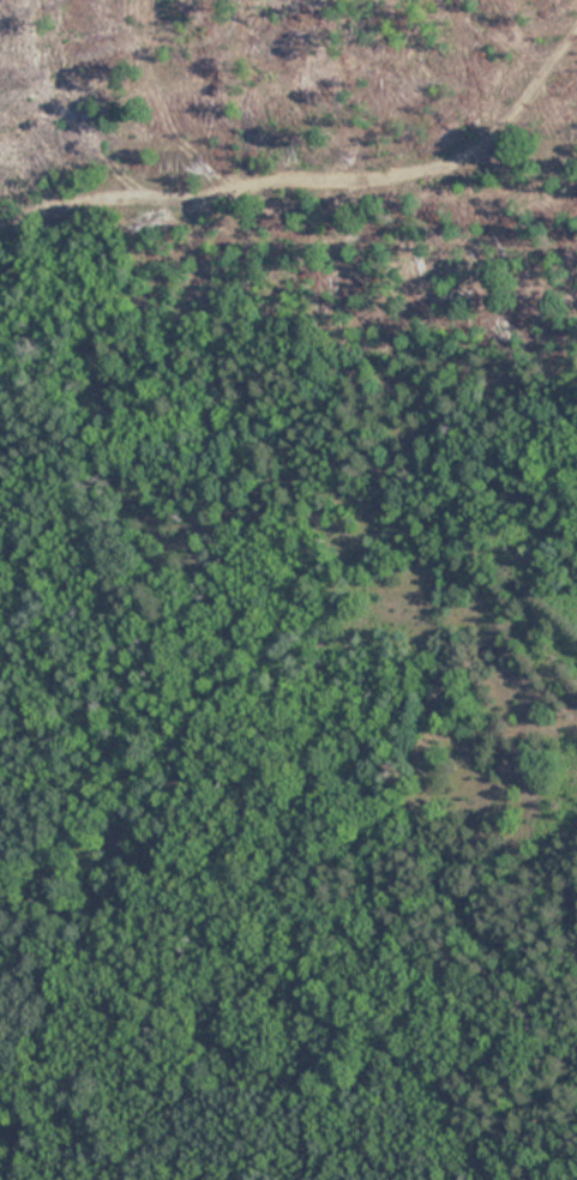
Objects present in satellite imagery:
park: (288, 590)

